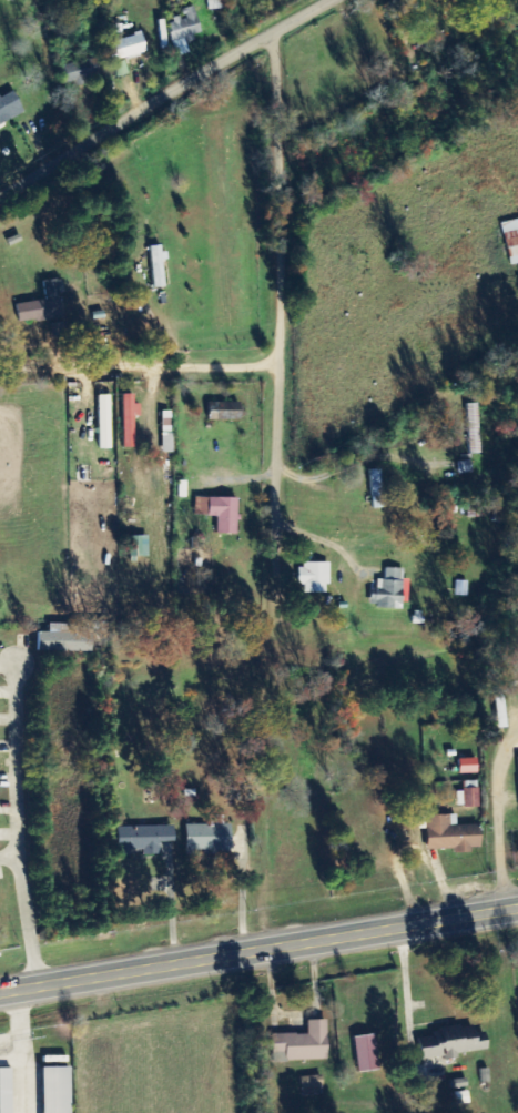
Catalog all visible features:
building: (184, 31)
building: (128, 48)
building: (121, 69)
building: (82, 72)
road: (162, 94)
building: (9, 107)
building: (511, 240)
building: (158, 266)
road: (276, 274)
building: (43, 305)
building: (58, 331)
road: (205, 360)
building: (225, 412)
building: (130, 421)
building: (105, 422)
building: (466, 467)
building: (377, 489)
building: (221, 513)
building: (140, 547)
building: (314, 578)
building: (390, 590)
building: (65, 639)
building: (501, 712)
building: (469, 767)
building: (469, 796)
road: (16, 824)
building: (451, 834)
building: (210, 839)
building: (155, 840)
road: (8, 853)
road: (258, 952)
building: (305, 1043)
building: (451, 1043)
building: (368, 1054)
building: (313, 1085)
building: (58, 1090)
building: (7, 1091)

